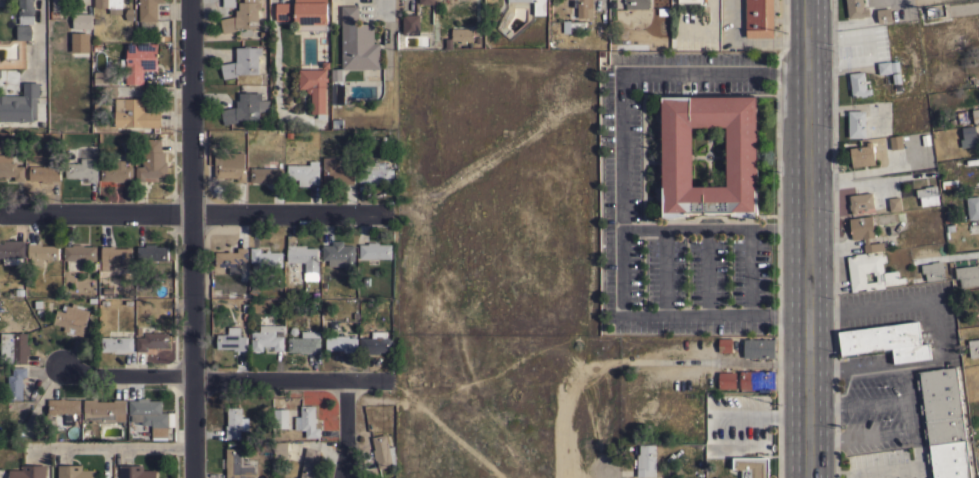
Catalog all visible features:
building: (692, 1)
building: (426, 2)
building: (228, 3)
road: (389, 4)
building: (636, 4)
building: (57, 5)
building: (109, 5)
building: (535, 6)
building: (855, 8)
building: (582, 9)
building: (25, 11)
building: (148, 14)
building: (303, 14)
building: (883, 14)
building: (242, 16)
building: (759, 18)
building: (81, 20)
building: (410, 24)
road: (40, 27)
building: (23, 31)
building: (458, 36)
building: (357, 41)
road: (751, 41)
building: (80, 42)
building: (139, 61)
building: (242, 62)
building: (887, 67)
road: (794, 71)
building: (336, 74)
building: (101, 76)
building: (857, 84)
building: (314, 87)
building: (337, 94)
building: (20, 104)
building: (245, 107)
building: (135, 114)
building: (975, 115)
building: (856, 123)
building: (968, 136)
building: (895, 142)
building: (862, 155)
building: (676, 156)
building: (152, 160)
building: (230, 165)
building: (84, 166)
building: (10, 167)
building: (117, 170)
building: (44, 172)
building: (304, 172)
building: (336, 172)
building: (373, 174)
building: (266, 175)
building: (952, 184)
road: (620, 193)
parking lot: (687, 193)
building: (927, 195)
building: (860, 201)
building: (894, 203)
building: (973, 207)
road: (194, 213)
road: (793, 226)
road: (698, 227)
building: (972, 227)
building: (864, 232)
road: (810, 238)
road: (190, 239)
building: (374, 250)
building: (12, 251)
building: (151, 252)
building: (41, 253)
building: (77, 254)
building: (339, 254)
building: (115, 255)
building: (265, 257)
building: (303, 257)
building: (231, 258)
road: (664, 270)
road: (708, 270)
road: (750, 270)
building: (933, 270)
building: (885, 273)
building: (967, 275)
road: (916, 303)
road: (795, 313)
building: (72, 319)
building: (267, 337)
building: (152, 339)
building: (231, 339)
building: (885, 341)
building: (304, 342)
building: (376, 342)
building: (116, 343)
building: (340, 343)
building: (725, 345)
building: (14, 347)
building: (758, 347)
building: (973, 347)
road: (715, 359)
road: (858, 369)
road: (229, 378)
building: (757, 379)
building: (727, 380)
building: (15, 382)
road: (908, 383)
parking lot: (902, 384)
road: (860, 402)
building: (63, 405)
building: (102, 410)
building: (148, 412)
building: (280, 418)
building: (307, 421)
building: (41, 422)
building: (235, 422)
building: (943, 423)
road: (347, 429)
road: (453, 429)
road: (915, 433)
road: (862, 437)
building: (257, 446)
road: (111, 448)
building: (280, 451)
building: (383, 451)
building: (646, 461)
building: (308, 462)
building: (236, 465)
building: (751, 466)
road: (891, 469)
road: (610, 470)
building: (27, 472)
building: (74, 472)
building: (136, 472)
building: (978, 475)

